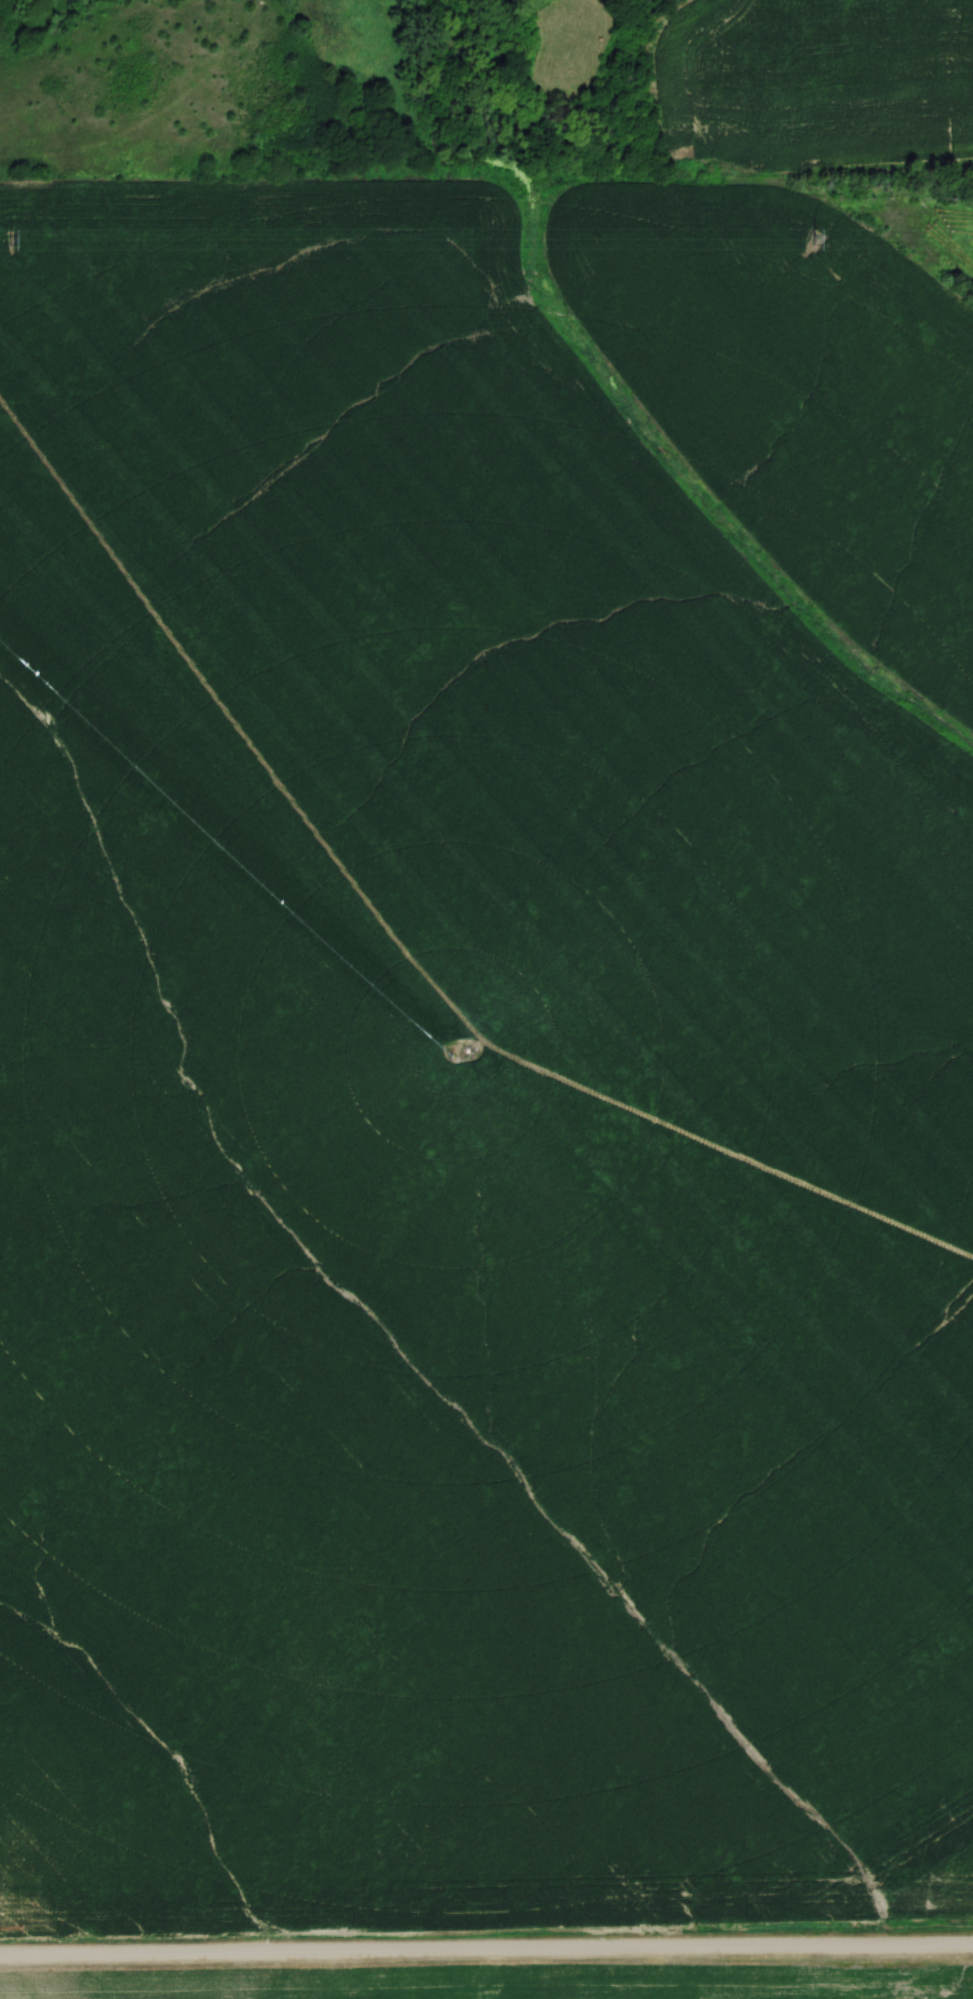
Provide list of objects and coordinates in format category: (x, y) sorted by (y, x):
power tower: (9, 239)
power tower: (812, 239)
road: (486, 1952)

